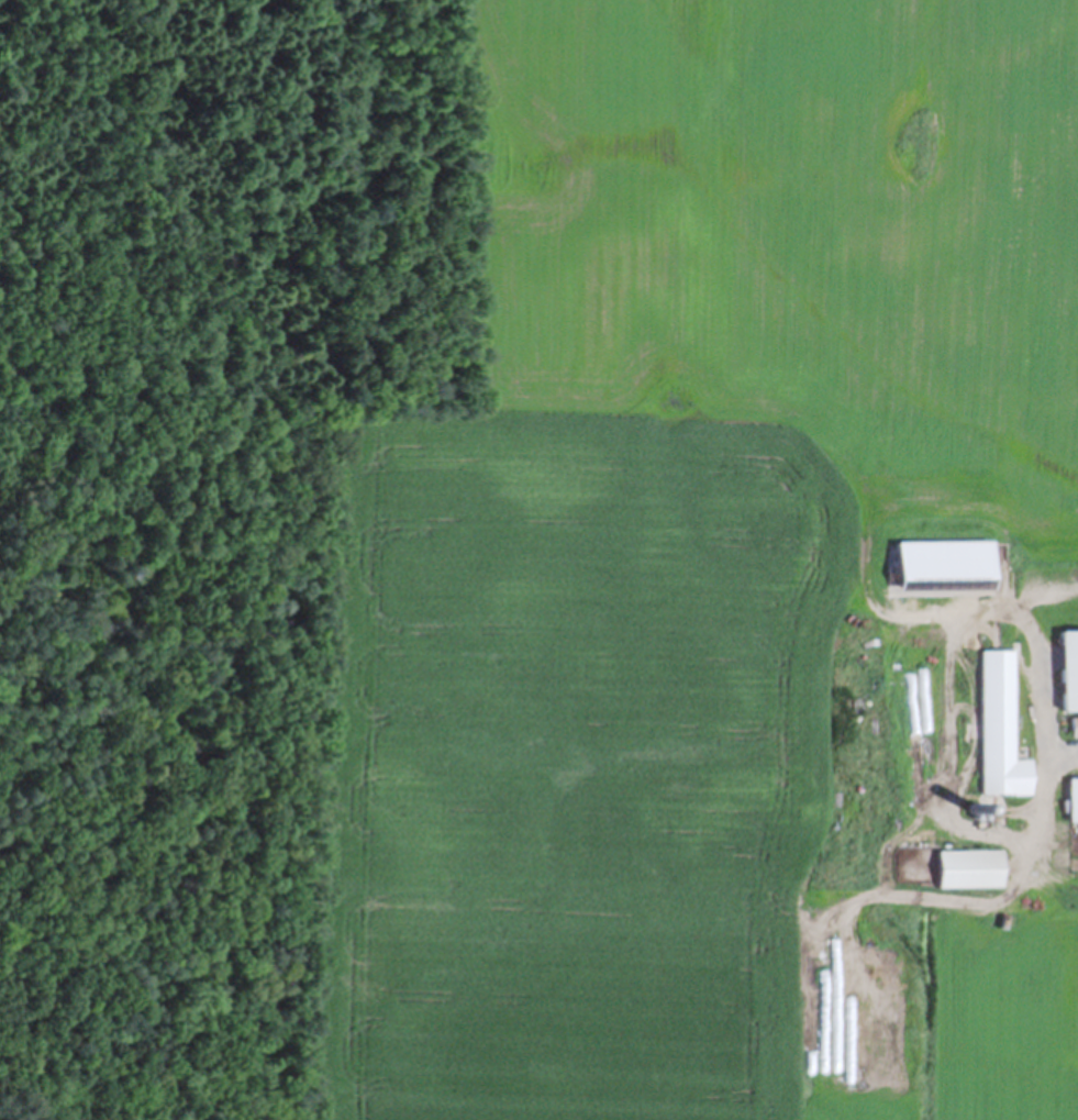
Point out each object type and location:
building: (1066, 665)
building: (1073, 722)
road: (1069, 752)
building: (1002, 784)
building: (966, 864)

